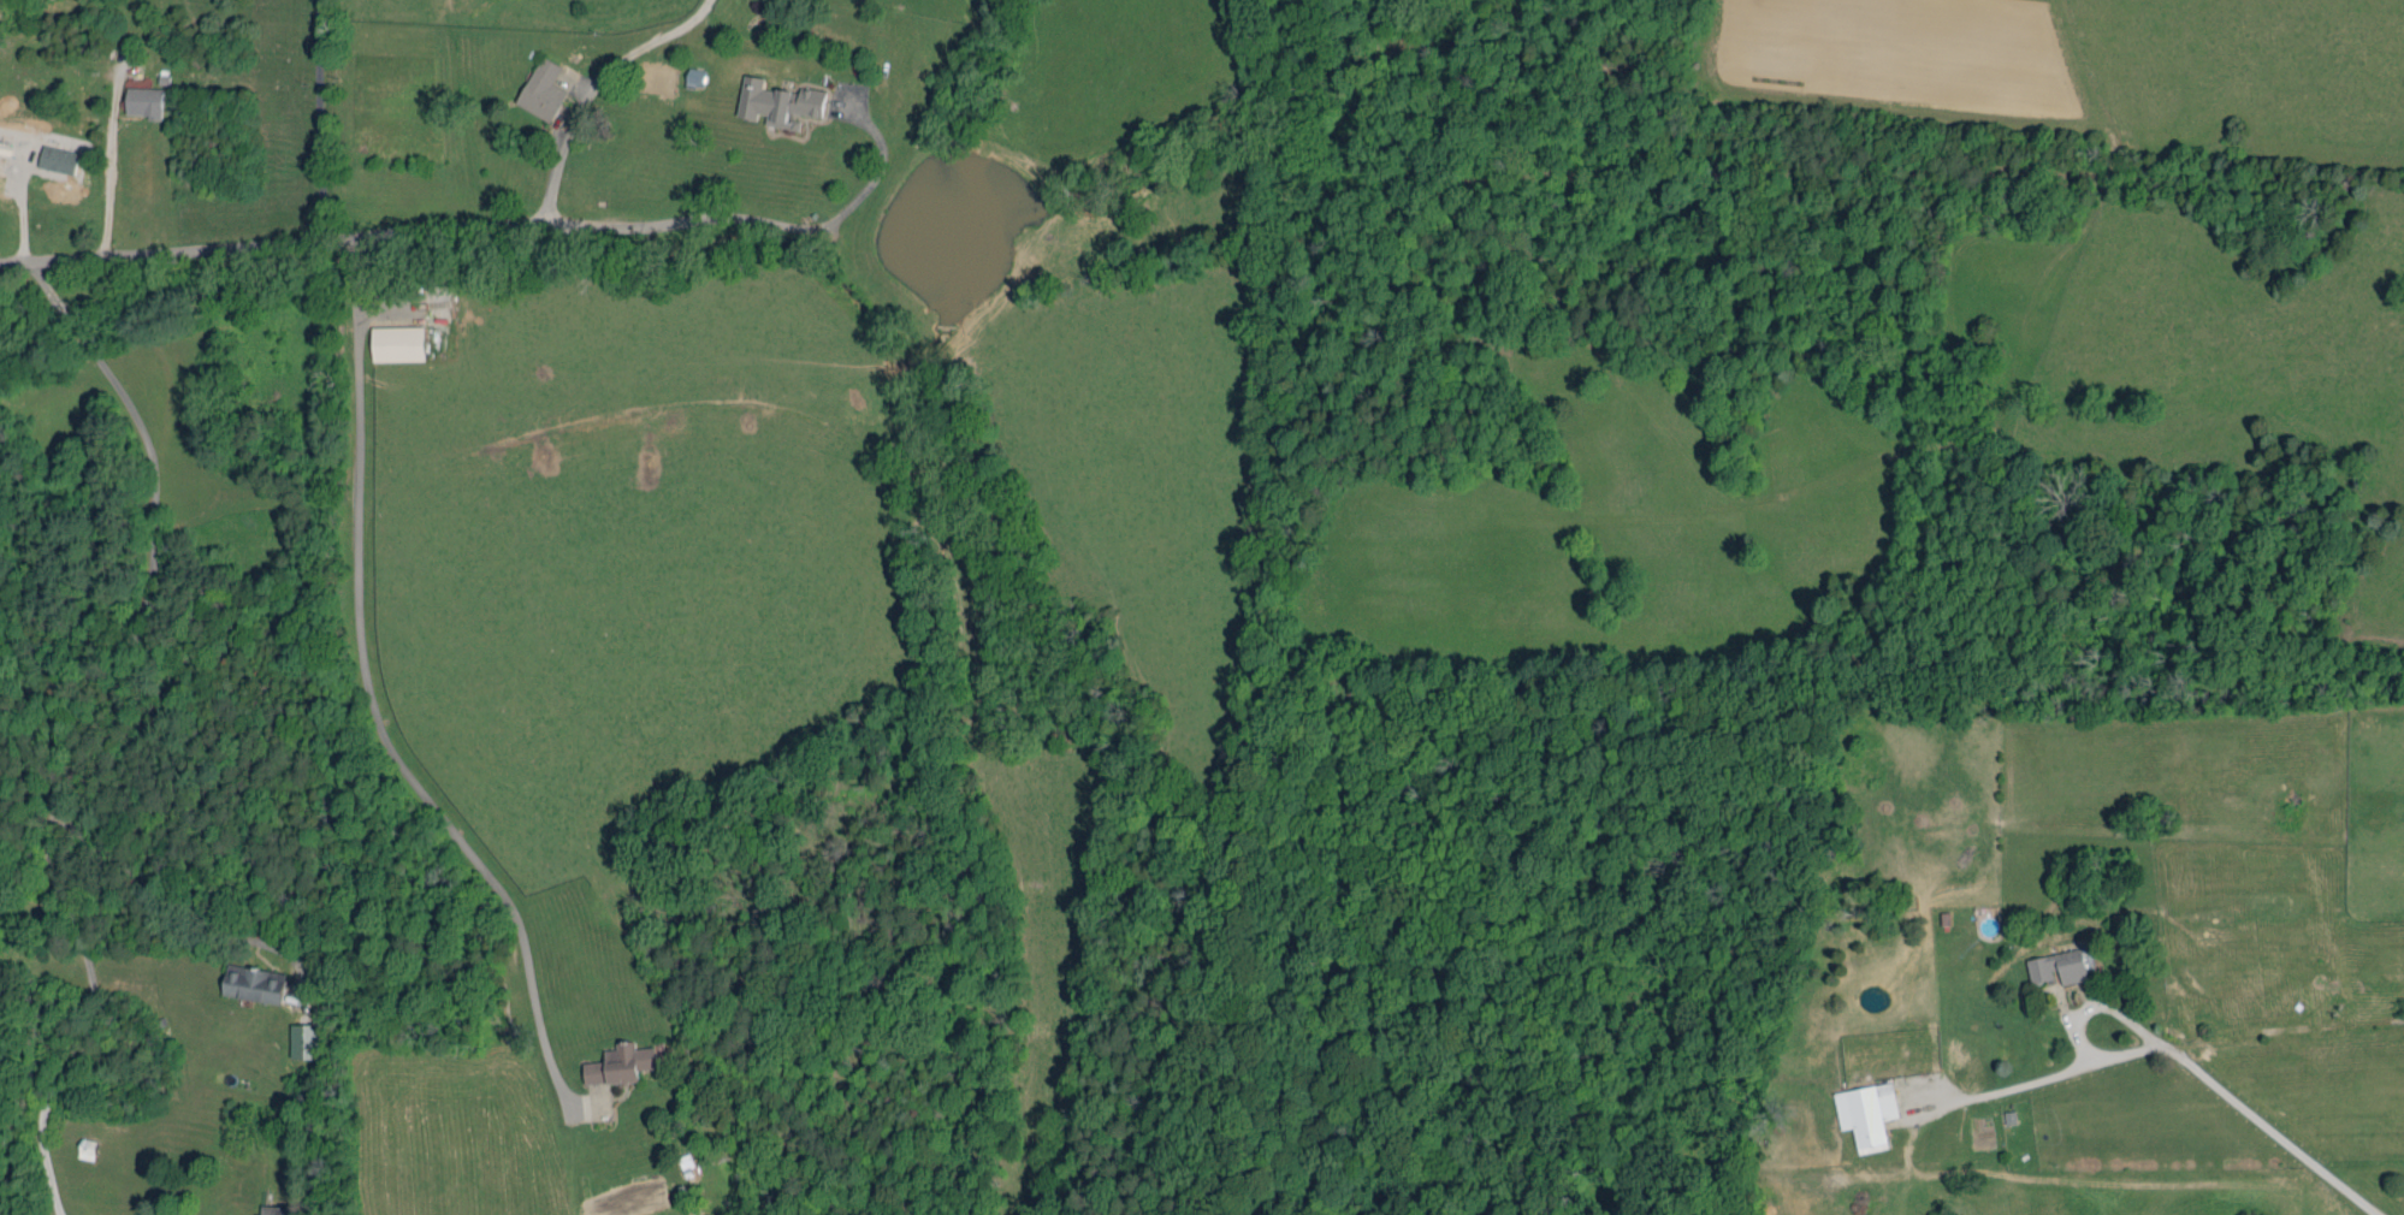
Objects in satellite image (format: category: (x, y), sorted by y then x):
building: (695, 76)
road: (600, 88)
building: (543, 90)
building: (143, 102)
building: (777, 102)
road: (316, 120)
building: (58, 159)
road: (107, 161)
road: (877, 172)
road: (20, 200)
road: (408, 230)
building: (397, 343)
road: (369, 701)
road: (87, 725)
building: (2059, 967)
building: (254, 983)
road: (2076, 1023)
building: (306, 1041)
building: (620, 1065)
road: (2021, 1084)
building: (1867, 1114)
road: (2266, 1127)
building: (274, 1210)

